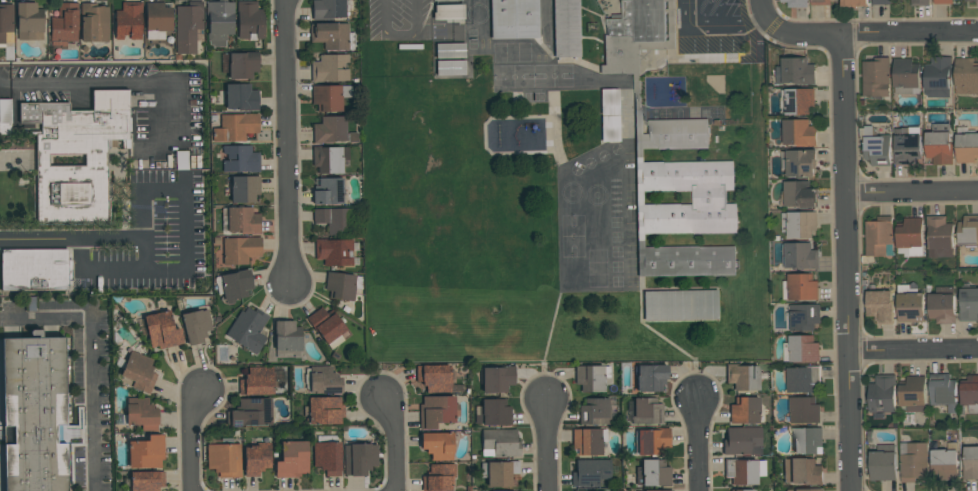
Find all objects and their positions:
building: (442, 0)
building: (882, 1)
building: (943, 1)
building: (821, 2)
building: (795, 3)
building: (853, 3)
building: (920, 3)
building: (977, 3)
building: (328, 8)
road: (775, 8)
road: (764, 10)
building: (448, 12)
building: (514, 19)
road: (750, 19)
building: (128, 20)
building: (157, 20)
building: (250, 20)
building: (640, 20)
building: (29, 21)
building: (219, 21)
building: (94, 22)
road: (720, 24)
building: (6, 25)
building: (64, 25)
road: (771, 25)
building: (188, 26)
building: (566, 28)
road: (871, 35)
building: (332, 36)
building: (450, 50)
building: (239, 64)
building: (329, 68)
building: (451, 68)
building: (795, 71)
building: (906, 75)
building: (966, 75)
building: (876, 76)
building: (938, 76)
road: (104, 84)
building: (241, 97)
building: (329, 97)
building: (797, 100)
building: (111, 115)
building: (610, 115)
building: (235, 127)
building: (330, 129)
building: (798, 132)
building: (678, 133)
building: (64, 136)
road: (289, 140)
building: (875, 145)
building: (939, 145)
building: (908, 146)
building: (967, 147)
building: (328, 158)
building: (240, 159)
road: (42, 160)
building: (799, 162)
building: (181, 165)
building: (685, 172)
building: (244, 189)
park: (32, 190)
building: (328, 191)
road: (911, 192)
building: (800, 193)
building: (71, 195)
building: (240, 220)
building: (332, 220)
building: (799, 223)
building: (968, 230)
building: (879, 236)
building: (910, 236)
building: (939, 236)
road: (73, 237)
road: (187, 238)
building: (240, 250)
building: (333, 252)
road: (147, 253)
building: (800, 255)
building: (689, 261)
road: (846, 263)
building: (35, 269)
building: (234, 285)
building: (342, 285)
building: (800, 287)
building: (910, 303)
building: (942, 304)
building: (968, 304)
building: (680, 305)
building: (880, 305)
building: (802, 316)
building: (196, 326)
building: (327, 327)
building: (248, 329)
building: (162, 330)
building: (287, 339)
building: (801, 348)
road: (913, 349)
road: (88, 361)
building: (139, 371)
building: (743, 377)
building: (434, 378)
building: (591, 378)
building: (650, 378)
building: (803, 378)
building: (497, 379)
building: (261, 381)
building: (324, 381)
building: (943, 391)
building: (913, 392)
building: (970, 392)
building: (882, 395)
building: (804, 409)
building: (323, 410)
building: (745, 410)
building: (437, 411)
building: (597, 411)
building: (646, 411)
building: (251, 413)
building: (493, 413)
building: (141, 414)
building: (33, 417)
road: (192, 439)
building: (807, 440)
building: (588, 441)
building: (652, 441)
building: (742, 441)
building: (500, 443)
road: (394, 444)
building: (438, 445)
road: (699, 445)
road: (546, 446)
building: (146, 452)
building: (327, 455)
building: (257, 459)
building: (292, 459)
building: (359, 459)
building: (224, 460)
building: (913, 461)
building: (970, 462)
building: (883, 463)
building: (944, 464)
building: (743, 471)
building: (802, 471)
building: (499, 473)
building: (590, 473)
building: (653, 473)
building: (439, 477)
building: (146, 481)
building: (658, 490)
building: (742, 490)
building: (805, 490)

